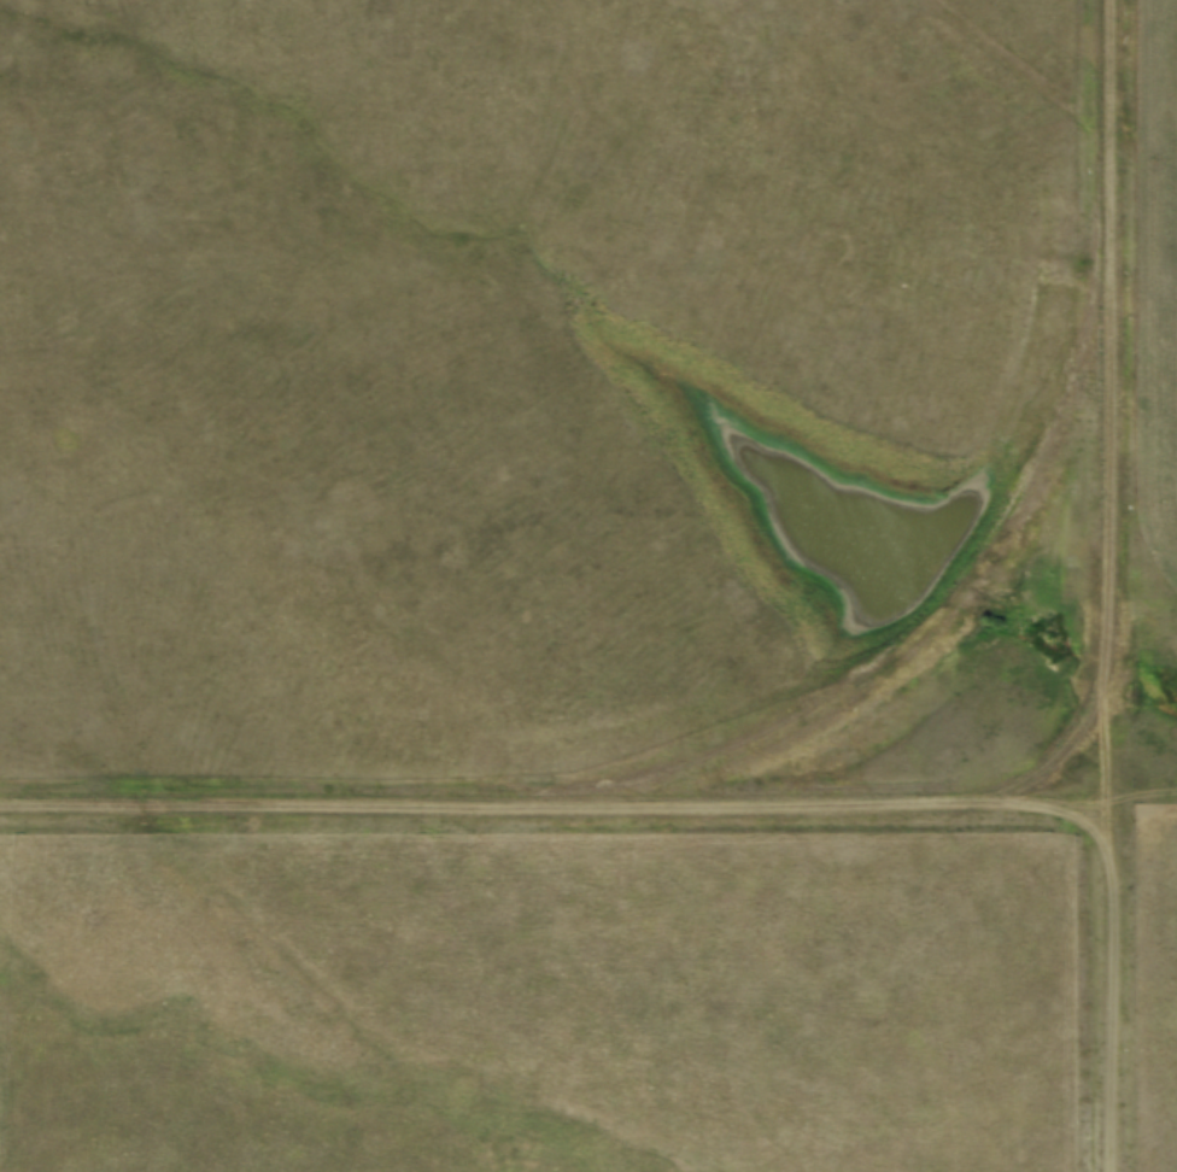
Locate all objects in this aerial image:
road: (1107, 586)
road: (551, 814)

